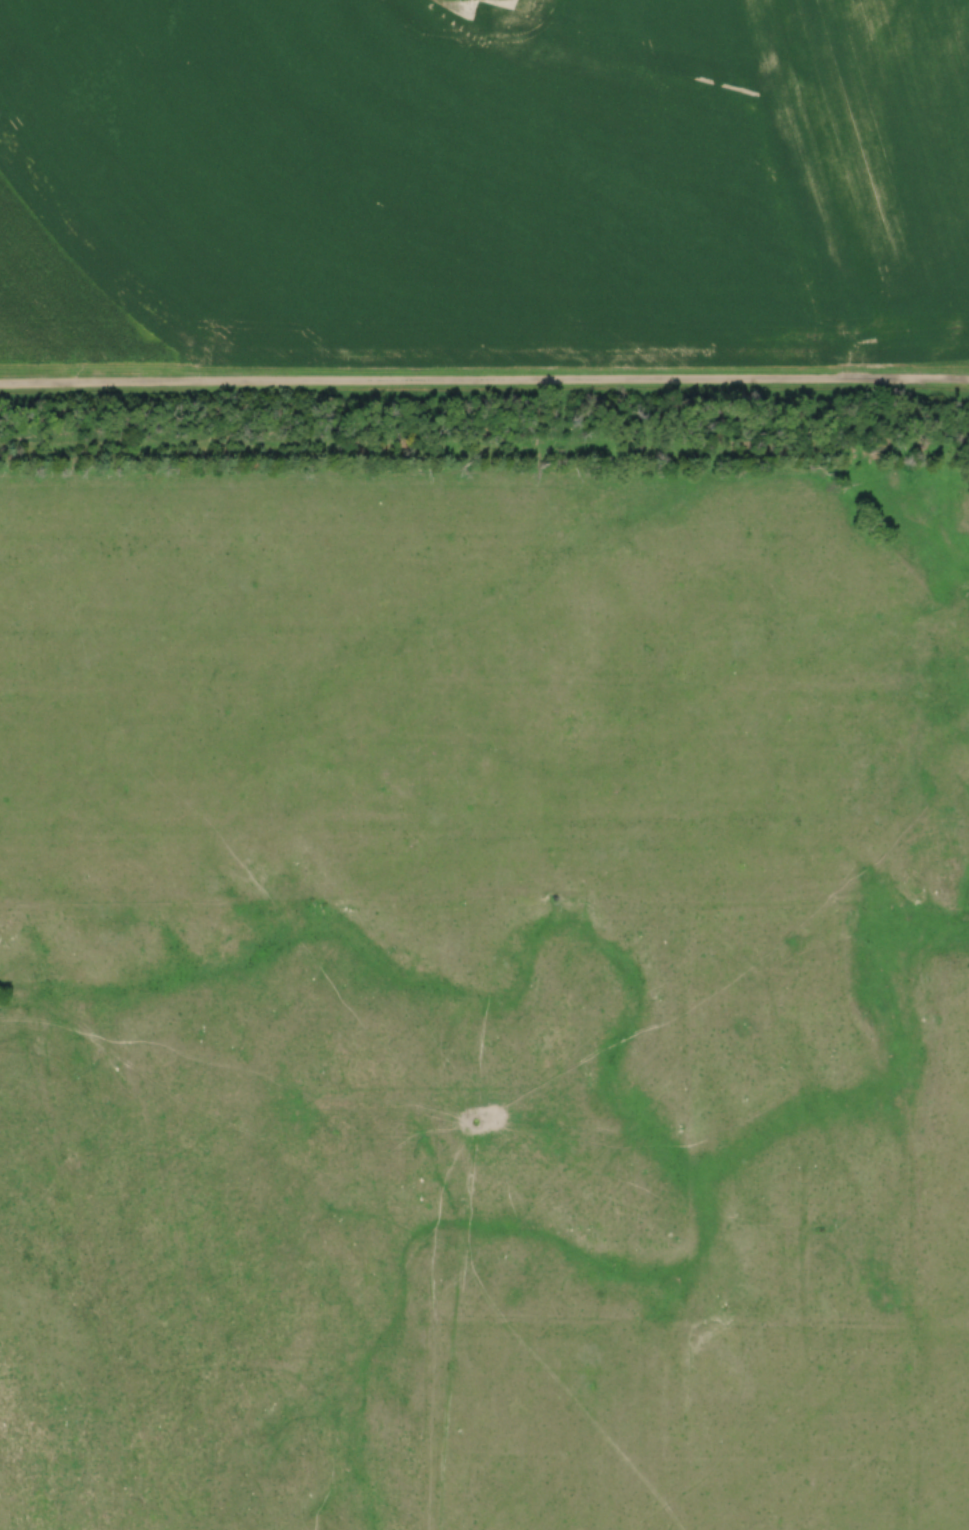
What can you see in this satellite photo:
road: (484, 381)

